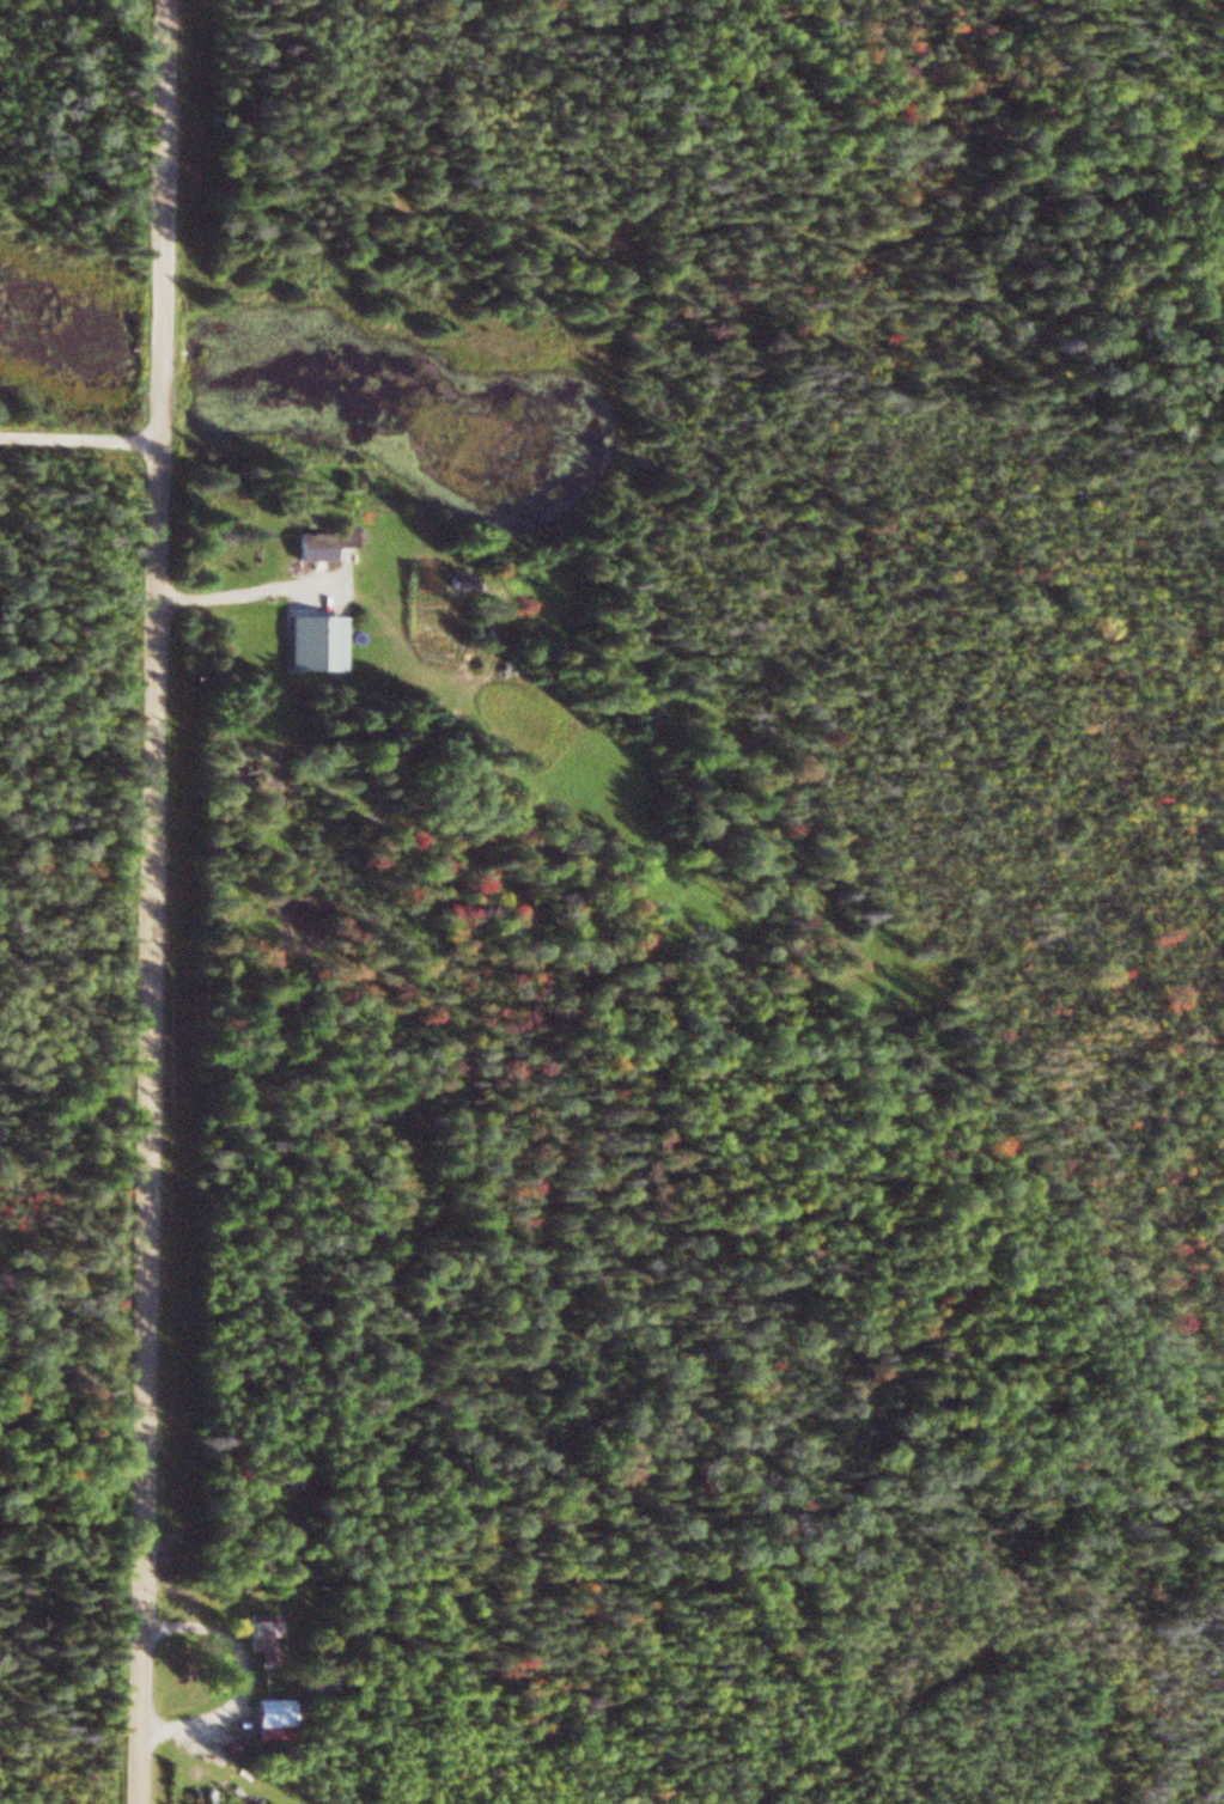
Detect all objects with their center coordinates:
road: (79, 441)
building: (327, 546)
building: (463, 583)
building: (322, 646)
road: (163, 901)
building: (269, 1640)
building: (278, 1723)

